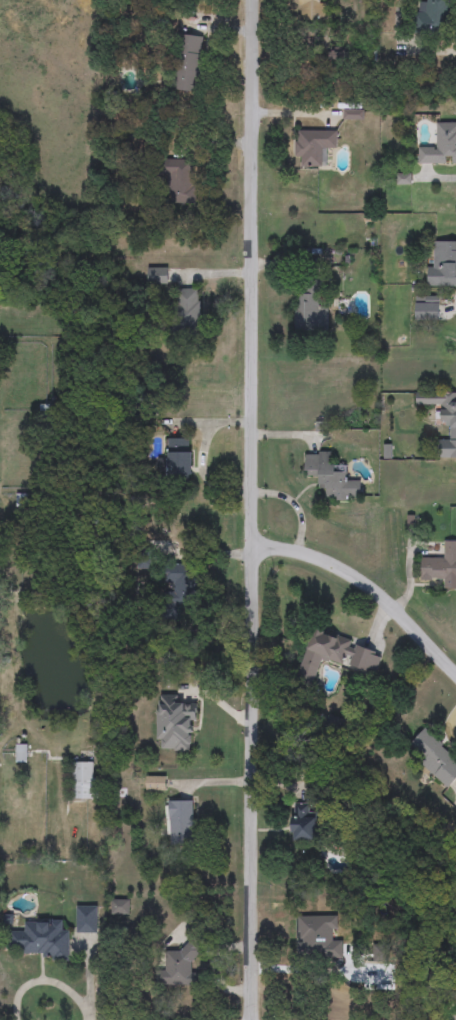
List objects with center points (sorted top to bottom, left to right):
building: (310, 11)
building: (430, 15)
road: (429, 50)
building: (338, 55)
building: (187, 63)
building: (352, 114)
building: (314, 145)
building: (440, 147)
building: (178, 180)
building: (443, 265)
building: (157, 276)
building: (427, 307)
building: (185, 311)
building: (309, 314)
building: (443, 419)
building: (176, 461)
building: (330, 476)
road: (251, 510)
building: (441, 566)
building: (179, 586)
road: (366, 586)
building: (333, 655)
building: (175, 723)
building: (335, 724)
building: (21, 753)
building: (434, 757)
building: (83, 781)
building: (155, 783)
building: (180, 818)
building: (302, 822)
building: (119, 907)
building: (86, 919)
building: (318, 938)
building: (42, 939)
building: (177, 968)
road: (47, 980)

